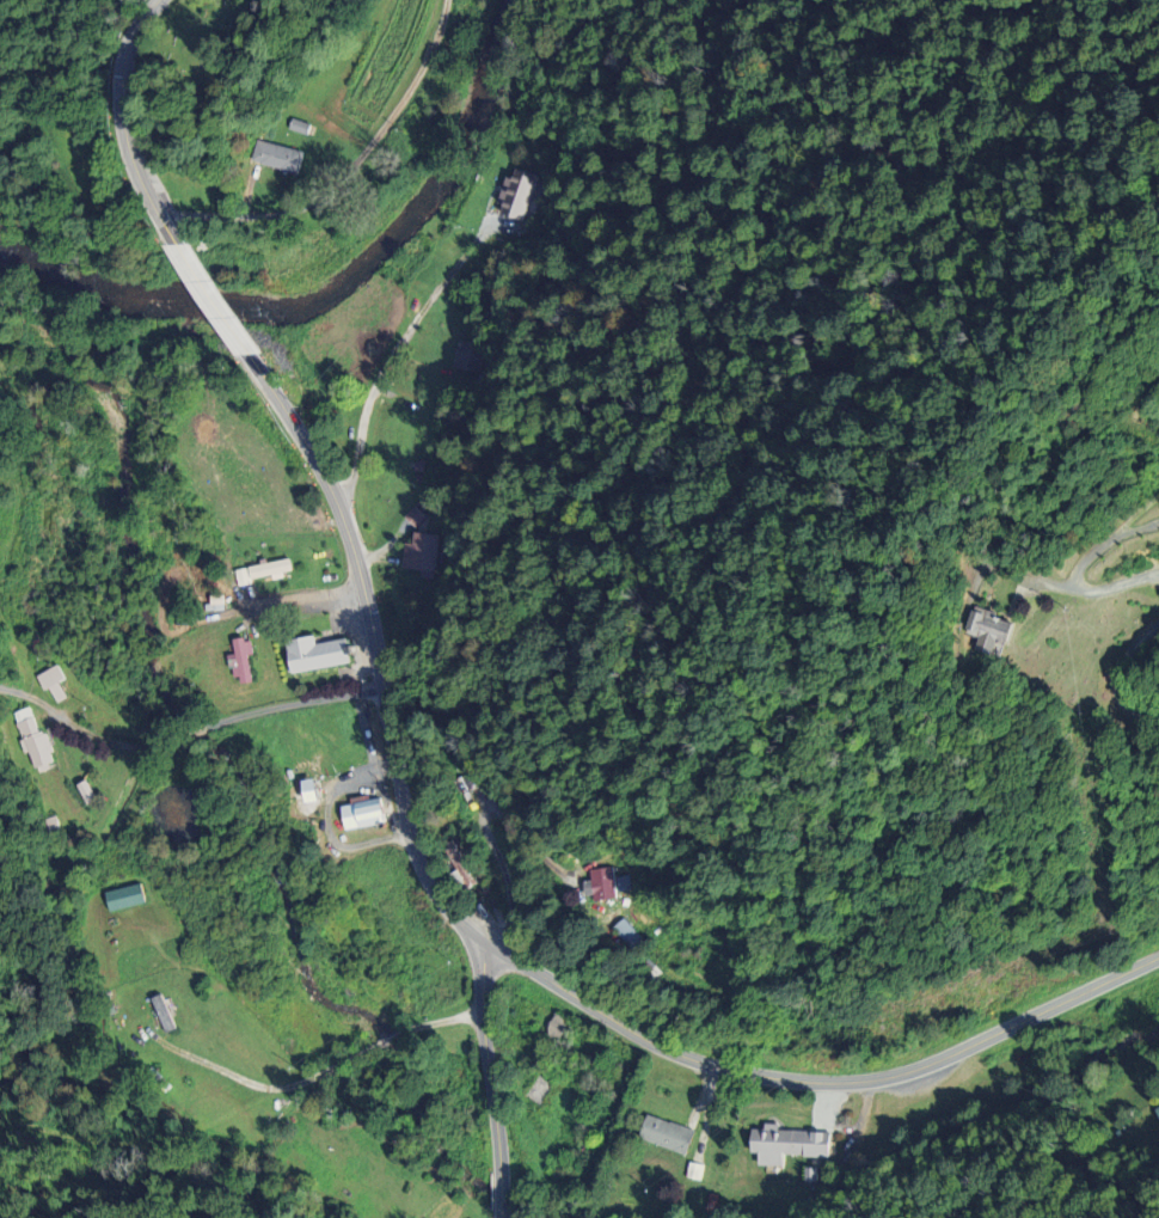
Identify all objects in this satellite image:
park: (191, 50)
road: (123, 123)
river: (459, 141)
building: (275, 161)
road: (349, 173)
building: (520, 197)
river: (6, 270)
river: (45, 289)
road: (214, 300)
river: (228, 306)
road: (390, 363)
building: (416, 443)
road: (1104, 545)
building: (421, 555)
building: (268, 574)
road: (1091, 593)
building: (989, 630)
building: (313, 654)
building: (239, 666)
road: (1122, 678)
building: (49, 683)
road: (296, 706)
road: (198, 733)
building: (355, 733)
road: (88, 737)
building: (33, 748)
building: (306, 763)
building: (465, 787)
building: (367, 816)
building: (456, 867)
building: (599, 887)
road: (521, 968)
building: (161, 1017)
building: (542, 1022)
road: (487, 1060)
building: (667, 1137)
building: (777, 1146)
road: (501, 1198)

